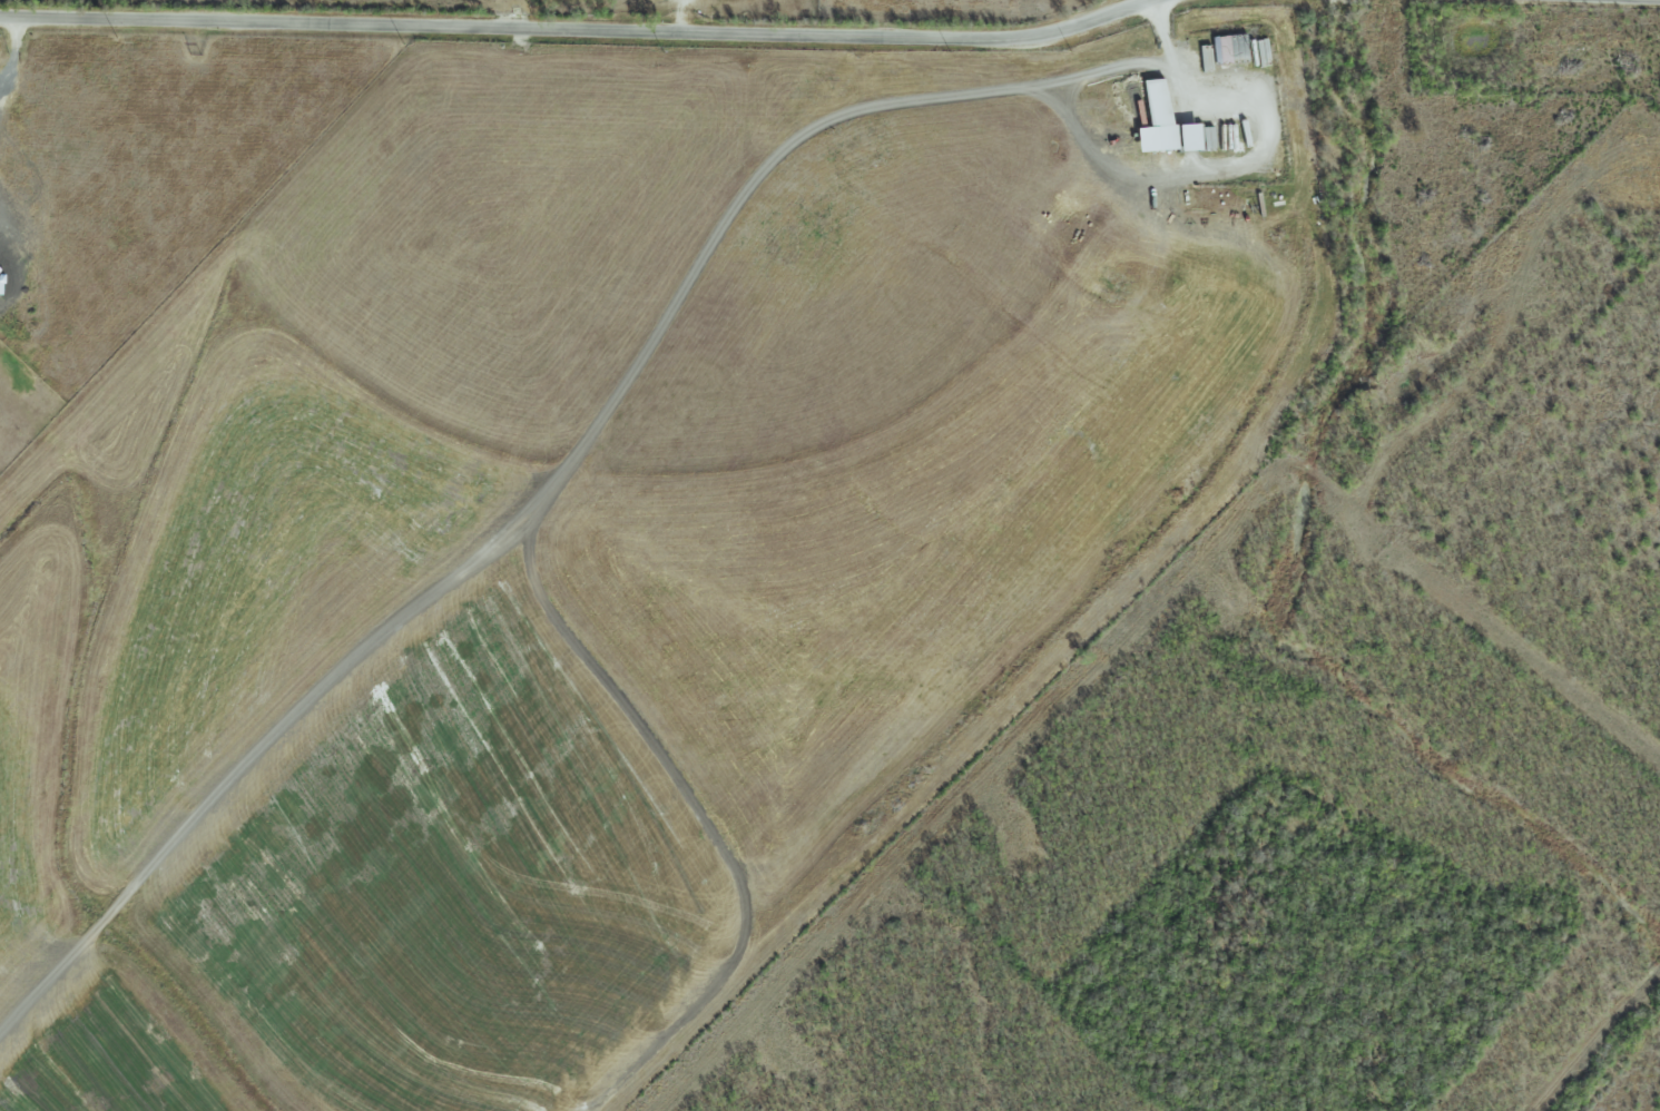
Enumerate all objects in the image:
road: (579, 30)
road: (1162, 32)
road: (17, 47)
building: (1229, 47)
building: (1155, 118)
building: (1188, 137)

